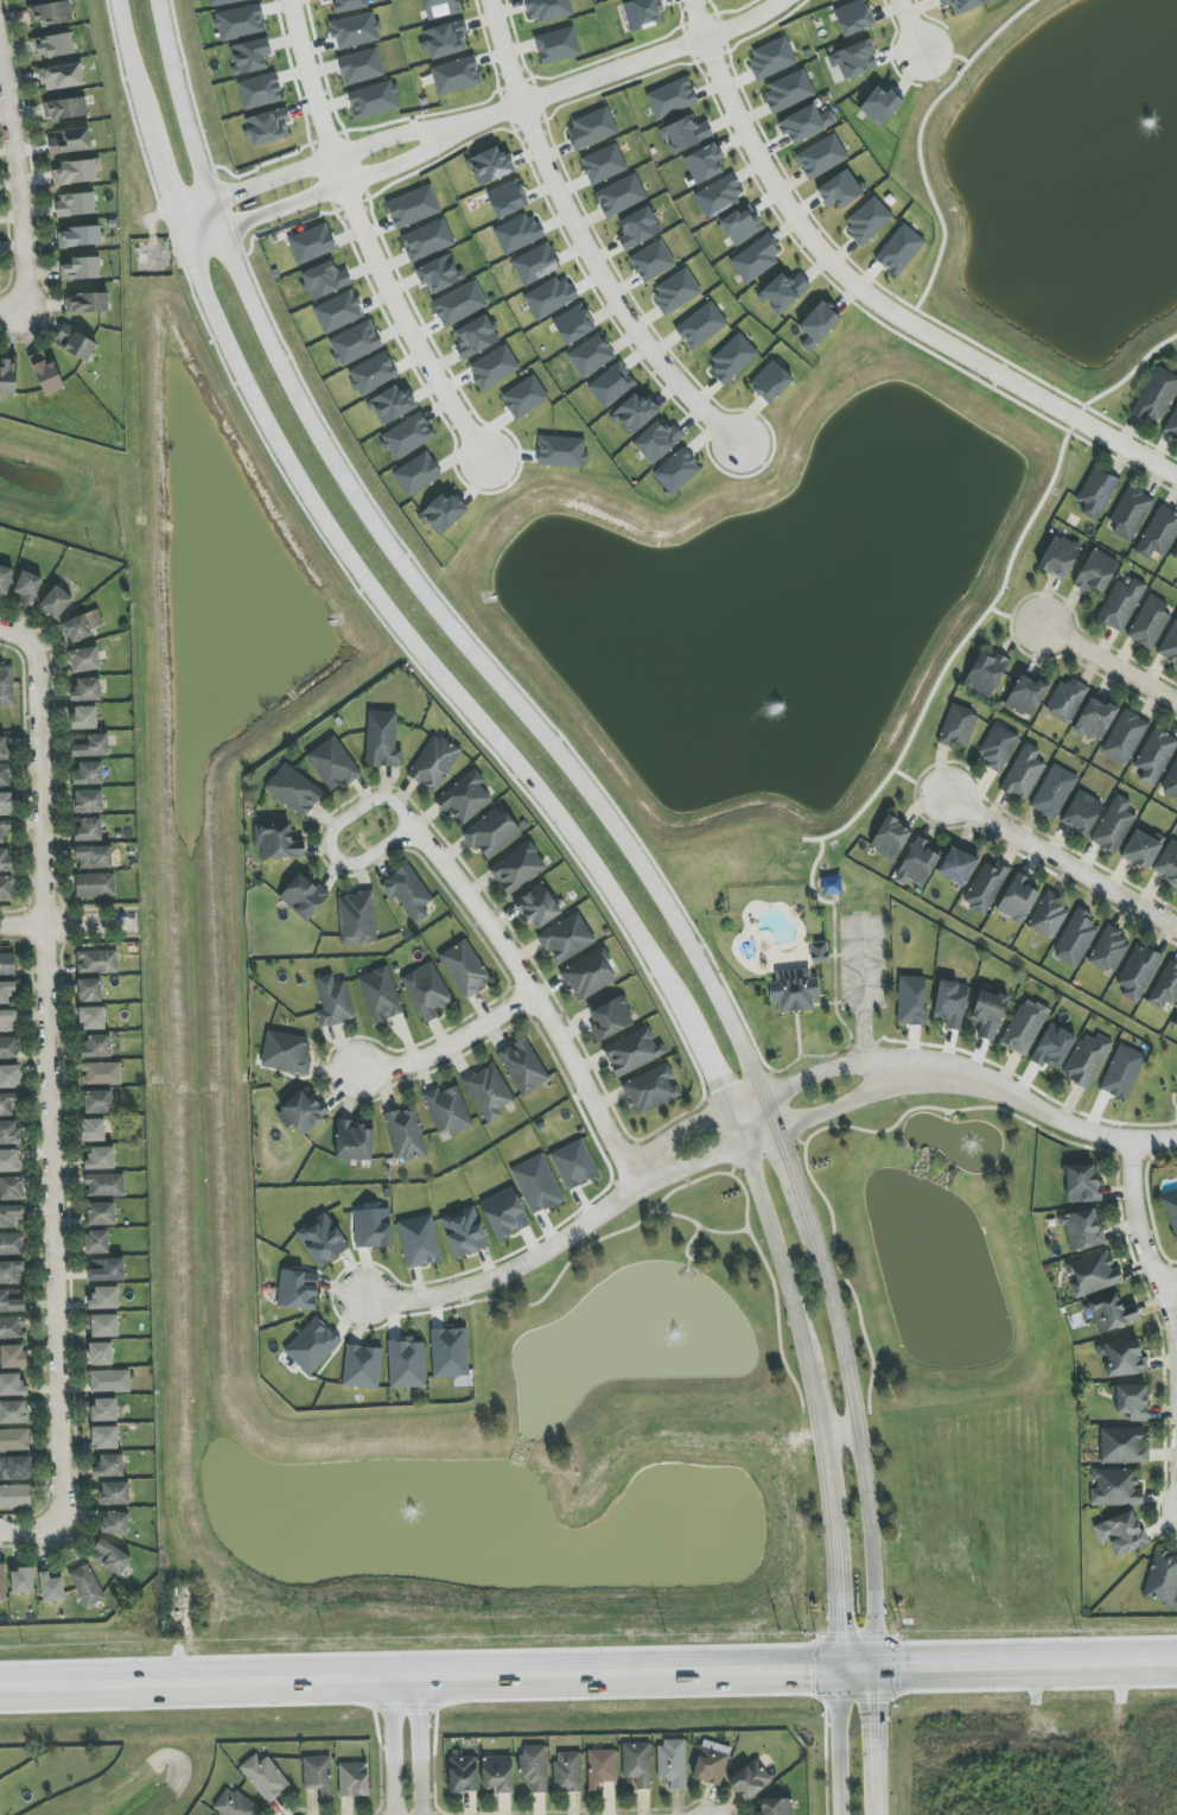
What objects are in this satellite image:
building: (227, 1)
building: (963, 4)
building: (348, 5)
building: (440, 8)
building: (547, 9)
building: (51, 13)
building: (642, 13)
building: (854, 17)
building: (240, 21)
road: (911, 27)
building: (355, 30)
building: (445, 39)
building: (53, 45)
building: (556, 45)
road: (947, 55)
building: (250, 56)
building: (771, 58)
building: (854, 59)
building: (361, 66)
road: (621, 66)
building: (456, 75)
building: (61, 77)
building: (259, 91)
building: (788, 91)
building: (672, 97)
building: (373, 100)
road: (178, 106)
building: (880, 106)
building: (65, 108)
building: (804, 123)
building: (267, 127)
building: (591, 129)
building: (685, 134)
building: (70, 141)
road: (917, 142)
building: (821, 157)
building: (704, 163)
road: (333, 164)
building: (603, 164)
building: (490, 166)
building: (76, 172)
road: (343, 189)
building: (840, 189)
road: (14, 195)
building: (621, 195)
building: (718, 197)
building: (507, 198)
building: (75, 204)
building: (413, 207)
road: (197, 216)
building: (867, 221)
road: (218, 222)
building: (742, 226)
building: (638, 228)
building: (517, 233)
building: (79, 236)
road: (363, 240)
building: (427, 240)
road: (581, 240)
road: (205, 241)
building: (311, 243)
building: (899, 249)
building: (756, 259)
building: (651, 261)
building: (535, 264)
building: (81, 268)
building: (439, 273)
building: (324, 280)
building: (676, 291)
building: (783, 292)
building: (551, 297)
road: (871, 299)
building: (87, 303)
building: (459, 304)
road: (11, 312)
building: (338, 312)
building: (573, 324)
building: (700, 325)
building: (817, 325)
building: (475, 336)
building: (75, 343)
building: (354, 343)
building: (591, 356)
building: (732, 360)
building: (494, 367)
building: (45, 373)
building: (373, 374)
building: (7, 377)
building: (770, 382)
building: (611, 385)
building: (1156, 395)
building: (524, 396)
building: (392, 405)
building: (634, 413)
building: (1172, 424)
building: (407, 437)
building: (657, 440)
building: (561, 451)
building: (676, 471)
building: (416, 474)
building: (1096, 493)
building: (441, 513)
building: (1130, 513)
building: (1158, 533)
building: (1175, 554)
building: (1058, 557)
building: (1095, 571)
building: (5, 579)
road: (371, 580)
building: (27, 588)
road: (997, 596)
building: (56, 602)
building: (1120, 604)
road: (1016, 618)
building: (1150, 622)
building: (76, 629)
building: (1170, 643)
building: (84, 660)
road: (1111, 662)
road: (488, 669)
building: (985, 673)
building: (6, 686)
building: (87, 690)
building: (1026, 693)
building: (1065, 700)
building: (84, 718)
building: (1095, 719)
building: (957, 726)
building: (1125, 737)
building: (382, 740)
building: (89, 745)
building: (2, 748)
building: (997, 748)
building: (1154, 756)
building: (434, 762)
building: (332, 763)
building: (1023, 773)
building: (89, 774)
building: (5, 775)
road: (917, 783)
building: (1171, 783)
building: (293, 789)
building: (1054, 792)
building: (465, 797)
building: (88, 801)
building: (5, 804)
building: (1081, 813)
building: (1114, 825)
building: (4, 829)
building: (89, 830)
building: (491, 832)
road: (329, 838)
building: (890, 838)
building: (276, 842)
building: (1141, 850)
building: (94, 857)
building: (5, 859)
road: (1061, 861)
building: (917, 863)
building: (957, 864)
building: (1168, 864)
building: (517, 868)
road: (810, 876)
building: (95, 886)
building: (985, 887)
building: (6, 888)
building: (407, 893)
building: (304, 896)
building: (1017, 900)
building: (537, 906)
building: (1048, 916)
building: (357, 919)
road: (65, 925)
building: (566, 938)
building: (1075, 939)
building: (1109, 950)
building: (819, 951)
road: (832, 956)
building: (97, 962)
parking lot: (861, 962)
building: (7, 964)
building: (465, 967)
building: (1138, 972)
building: (590, 975)
building: (1165, 988)
building: (89, 990)
building: (794, 990)
building: (6, 991)
building: (426, 991)
road: (864, 994)
building: (380, 995)
road: (536, 1001)
building: (911, 1001)
building: (333, 1002)
road: (825, 1003)
building: (950, 1003)
building: (988, 1013)
building: (93, 1018)
building: (610, 1018)
building: (7, 1021)
road: (842, 1022)
building: (1176, 1022)
building: (1024, 1027)
road: (796, 1033)
building: (96, 1046)
building: (1052, 1047)
building: (8, 1048)
road: (450, 1048)
building: (286, 1052)
building: (632, 1052)
building: (1087, 1060)
building: (523, 1066)
road: (45, 1072)
building: (1122, 1072)
building: (101, 1073)
building: (9, 1077)
building: (651, 1089)
building: (488, 1092)
building: (97, 1102)
road: (744, 1102)
building: (8, 1104)
road: (1026, 1104)
building: (447, 1110)
building: (301, 1112)
road: (774, 1112)
road: (734, 1125)
building: (93, 1130)
building: (9, 1132)
building: (406, 1135)
road: (762, 1135)
building: (354, 1141)
fountain: (981, 1147)
building: (100, 1157)
building: (9, 1161)
building: (574, 1164)
road: (794, 1167)
building: (1081, 1183)
building: (104, 1185)
building: (536, 1185)
building: (11, 1188)
building: (1171, 1210)
building: (101, 1214)
building: (504, 1214)
building: (9, 1217)
building: (373, 1227)
building: (1081, 1230)
building: (464, 1232)
building: (322, 1239)
building: (419, 1242)
building: (96, 1243)
building: (11, 1244)
road: (776, 1244)
road: (1143, 1244)
road: (510, 1269)
building: (106, 1270)
building: (11, 1273)
building: (1092, 1274)
road: (1169, 1282)
building: (298, 1289)
building: (104, 1297)
building: (11, 1300)
building: (1111, 1314)
fountain: (674, 1321)
building: (104, 1326)
building: (12, 1328)
building: (312, 1345)
building: (450, 1352)
building: (100, 1353)
building: (13, 1357)
building: (1122, 1358)
building: (407, 1364)
building: (362, 1366)
building: (109, 1381)
building: (12, 1385)
road: (812, 1392)
building: (1131, 1401)
building: (104, 1409)
building: (13, 1413)
road: (855, 1433)
road: (839, 1435)
building: (104, 1438)
building: (14, 1440)
building: (1122, 1445)
building: (109, 1466)
building: (14, 1468)
road: (826, 1481)
building: (1114, 1487)
building: (114, 1493)
building: (14, 1496)
fountain: (407, 1522)
building: (115, 1523)
road: (24, 1532)
building: (1121, 1532)
building: (110, 1557)
building: (1162, 1579)
building: (21, 1581)
building: (2, 1584)
building: (87, 1586)
building: (51, 1587)
road: (833, 1595)
road: (588, 1670)
road: (880, 1732)
road: (836, 1740)
road: (395, 1745)
road: (418, 1745)
building: (672, 1763)
building: (637, 1764)
building: (711, 1765)
building: (534, 1768)
building: (600, 1768)
building: (567, 1771)
building: (463, 1773)
building: (498, 1773)
building: (317, 1775)
building: (265, 1777)
building: (354, 1779)
building: (750, 1781)
building: (776, 1807)
road: (882, 1807)

